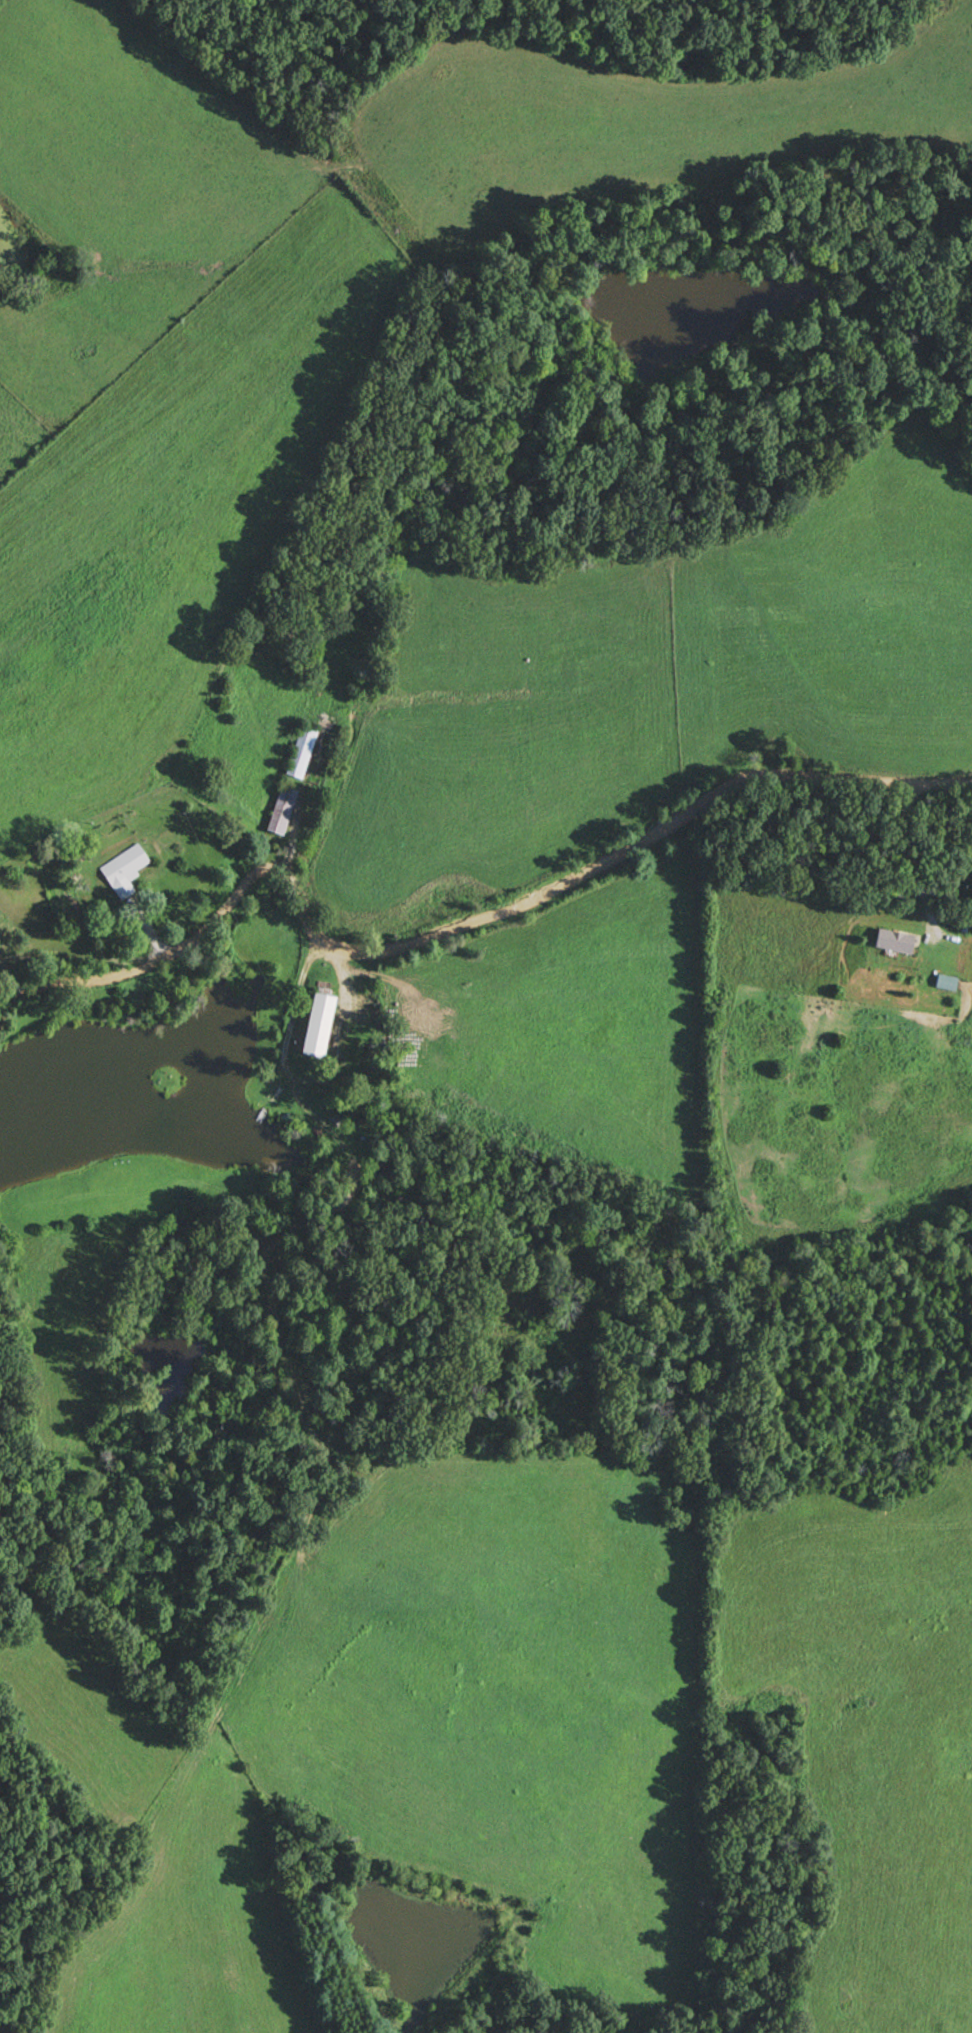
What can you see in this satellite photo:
building: (303, 750)
building: (284, 810)
building: (126, 869)
road: (462, 918)
building: (891, 941)
building: (321, 1024)

